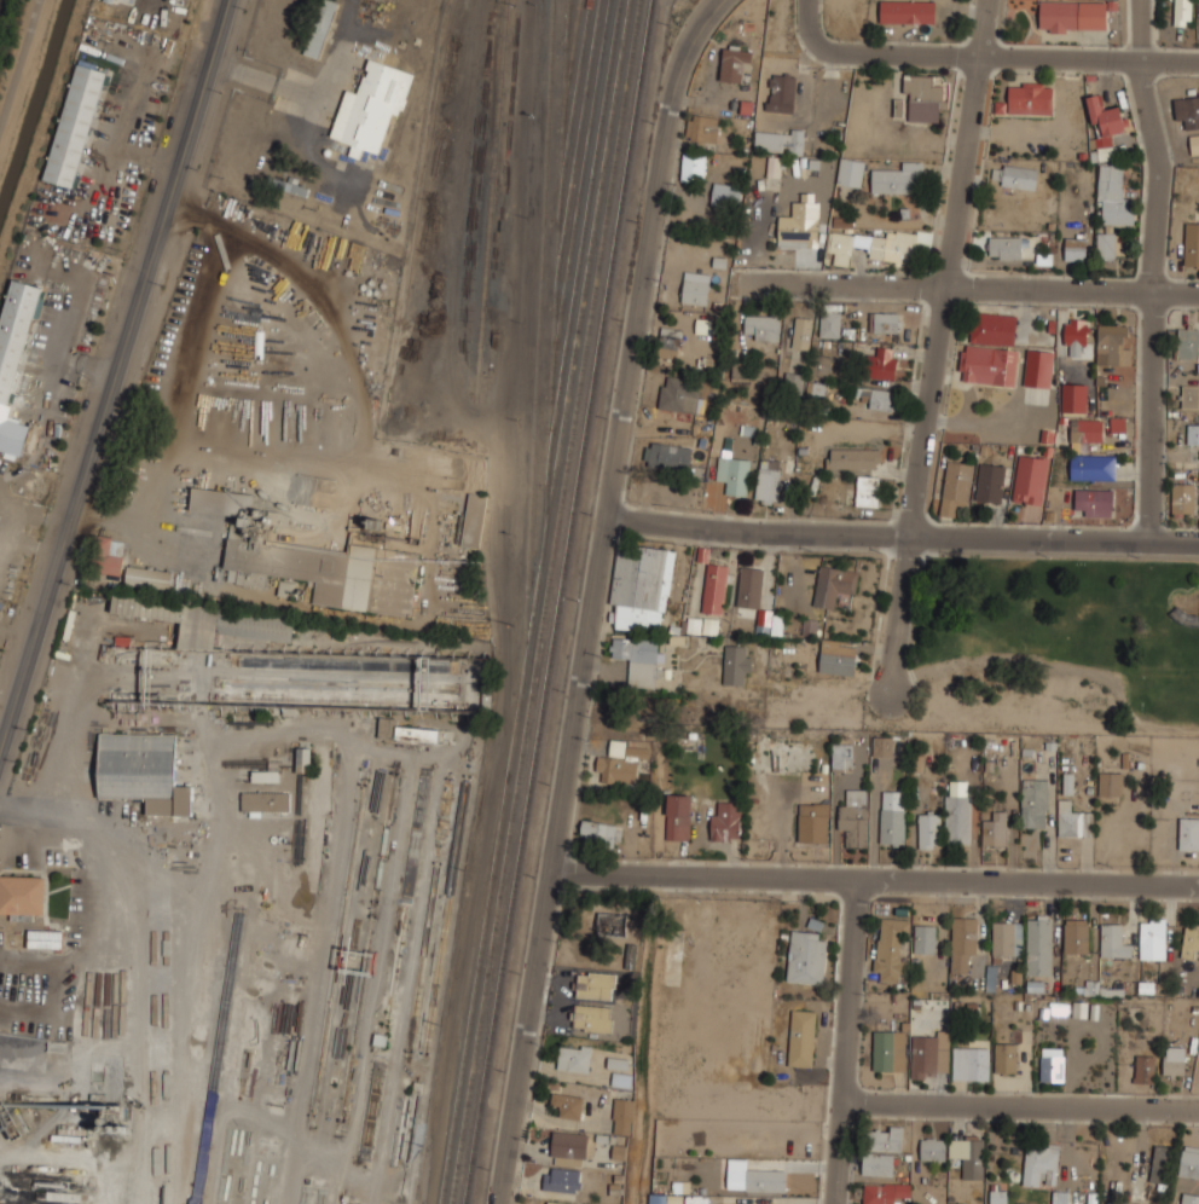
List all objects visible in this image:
railway: (569, 10)
building: (908, 12)
building: (1182, 12)
building: (1075, 16)
building: (319, 28)
railway: (574, 42)
road: (17, 57)
road: (984, 57)
building: (735, 63)
railway: (413, 85)
building: (781, 91)
railway: (575, 94)
building: (1029, 97)
building: (922, 98)
building: (371, 108)
building: (1187, 110)
building: (1106, 118)
building: (74, 127)
building: (702, 127)
railway: (579, 135)
building: (778, 139)
building: (1194, 144)
building: (774, 166)
building: (693, 167)
building: (850, 170)
building: (1015, 175)
building: (898, 178)
railway: (580, 186)
building: (725, 195)
building: (1112, 196)
railway: (490, 198)
railway: (418, 213)
building: (799, 221)
building: (842, 222)
railway: (583, 233)
building: (1192, 243)
building: (1106, 244)
building: (873, 245)
building: (1006, 245)
building: (1076, 247)
road: (645, 251)
building: (1044, 259)
railway: (557, 267)
railway: (587, 267)
road: (1151, 270)
road: (991, 288)
building: (694, 290)
building: (829, 323)
building: (892, 325)
building: (761, 326)
building: (801, 331)
building: (1076, 338)
railway: (537, 341)
building: (668, 342)
building: (1111, 343)
building: (1188, 343)
road: (937, 346)
building: (989, 348)
building: (15, 355)
building: (881, 361)
building: (819, 364)
building: (1038, 366)
road: (112, 372)
building: (792, 380)
building: (678, 393)
building: (1189, 395)
building: (879, 398)
building: (1075, 398)
building: (1087, 430)
building: (1193, 433)
building: (667, 453)
building: (852, 461)
building: (1093, 467)
building: (732, 473)
building: (1029, 479)
building: (768, 480)
building: (990, 482)
building: (955, 485)
building: (868, 491)
building: (1183, 498)
building: (1095, 502)
building: (222, 503)
building: (474, 520)
building: (250, 531)
road: (902, 533)
building: (110, 556)
building: (328, 574)
building: (149, 578)
building: (641, 584)
building: (833, 584)
building: (749, 586)
building: (714, 587)
railway: (545, 602)
railway: (560, 602)
building: (150, 608)
building: (764, 618)
building: (255, 626)
building: (703, 626)
park: (1059, 644)
building: (638, 658)
building: (836, 660)
building: (736, 664)
building: (405, 730)
building: (881, 746)
building: (616, 748)
building: (840, 754)
building: (916, 758)
building: (303, 759)
building: (619, 765)
building: (143, 770)
building: (265, 776)
building: (1110, 783)
building: (265, 800)
building: (1033, 803)
road: (68, 815)
building: (678, 816)
building: (892, 816)
building: (853, 817)
building: (957, 818)
building: (1072, 820)
building: (725, 821)
road: (875, 822)
building: (812, 823)
building: (928, 828)
building: (995, 828)
building: (599, 830)
building: (1188, 832)
road: (552, 859)
railway: (492, 869)
road: (874, 880)
building: (22, 895)
building: (612, 925)
building: (1076, 934)
building: (1153, 937)
building: (925, 938)
building: (1007, 938)
building: (45, 939)
building: (1112, 939)
building: (1189, 940)
building: (963, 943)
building: (1038, 944)
building: (891, 949)
building: (806, 957)
building: (595, 985)
building: (591, 1018)
building: (801, 1038)
road: (846, 1041)
building: (888, 1049)
building: (929, 1052)
building: (1006, 1054)
building: (574, 1059)
building: (1174, 1059)
building: (971, 1063)
building: (1052, 1067)
building: (1145, 1069)
building: (621, 1079)
building: (568, 1105)
road: (1020, 1105)
building: (622, 1116)
building: (882, 1138)
building: (569, 1148)
building: (933, 1148)
building: (968, 1154)
building: (1189, 1162)
building: (1159, 1163)
building: (877, 1164)
building: (1041, 1164)
building: (754, 1179)
building: (562, 1180)
building: (884, 1191)
building: (998, 1197)
building: (1060, 1197)
building: (658, 1198)
building: (1189, 1198)
building: (546, 1203)

